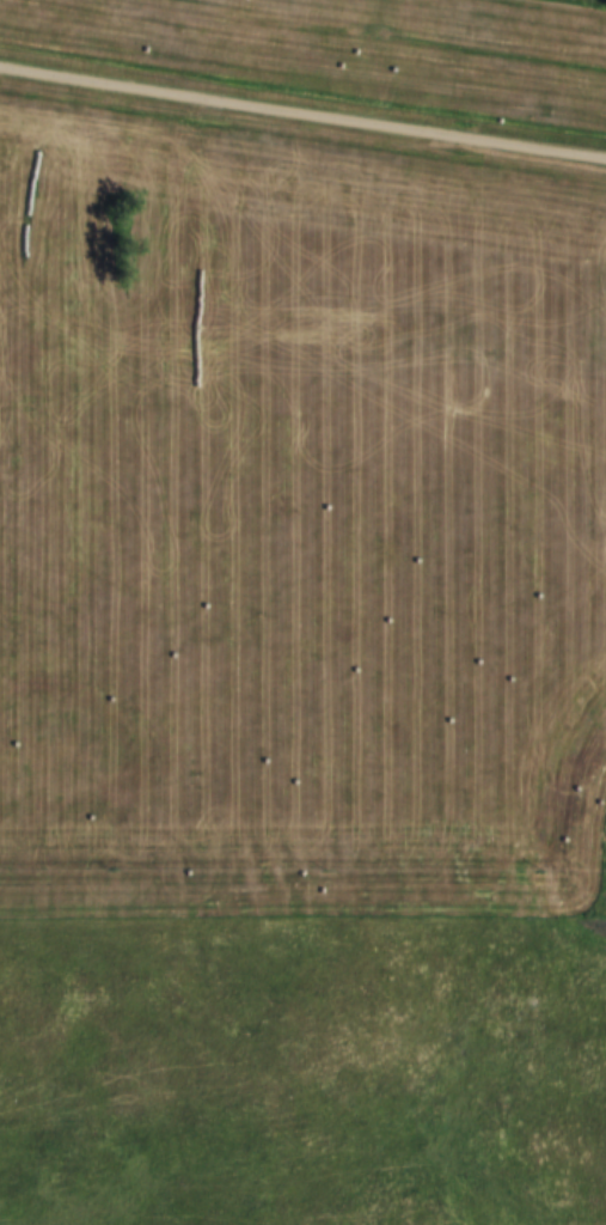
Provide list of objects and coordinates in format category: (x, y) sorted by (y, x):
building: (283, 508)

